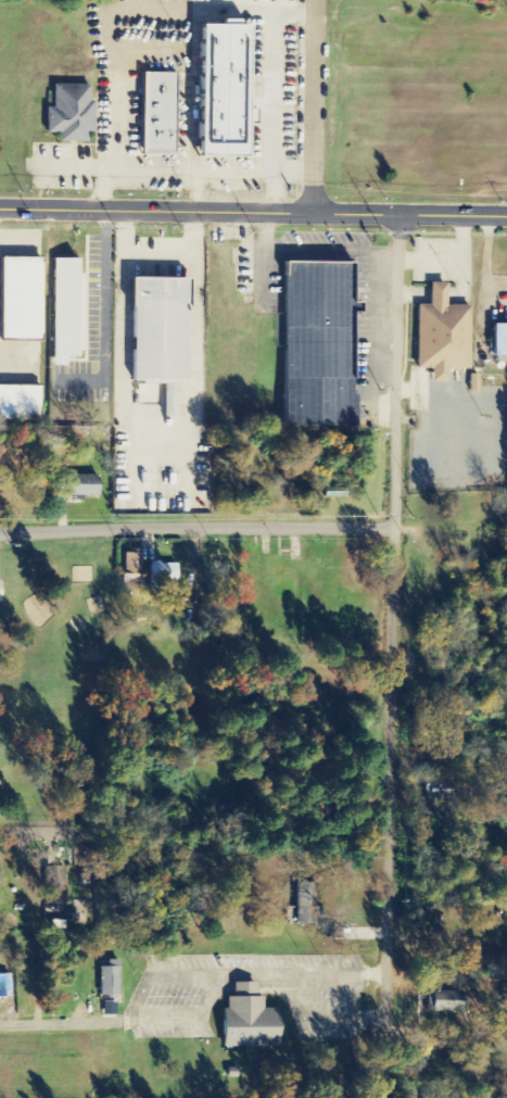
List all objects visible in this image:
building: (224, 88)
road: (313, 105)
building: (71, 111)
building: (159, 112)
road: (253, 211)
building: (221, 266)
building: (21, 298)
building: (65, 305)
building: (160, 327)
building: (441, 335)
building: (498, 340)
building: (315, 344)
building: (20, 401)
building: (81, 485)
road: (198, 527)
building: (131, 565)
building: (162, 572)
road: (393, 655)
park: (58, 682)
building: (442, 791)
road: (43, 831)
building: (54, 884)
building: (304, 905)
building: (107, 980)
building: (4, 986)
building: (443, 1002)
building: (246, 1020)
road: (60, 1022)

